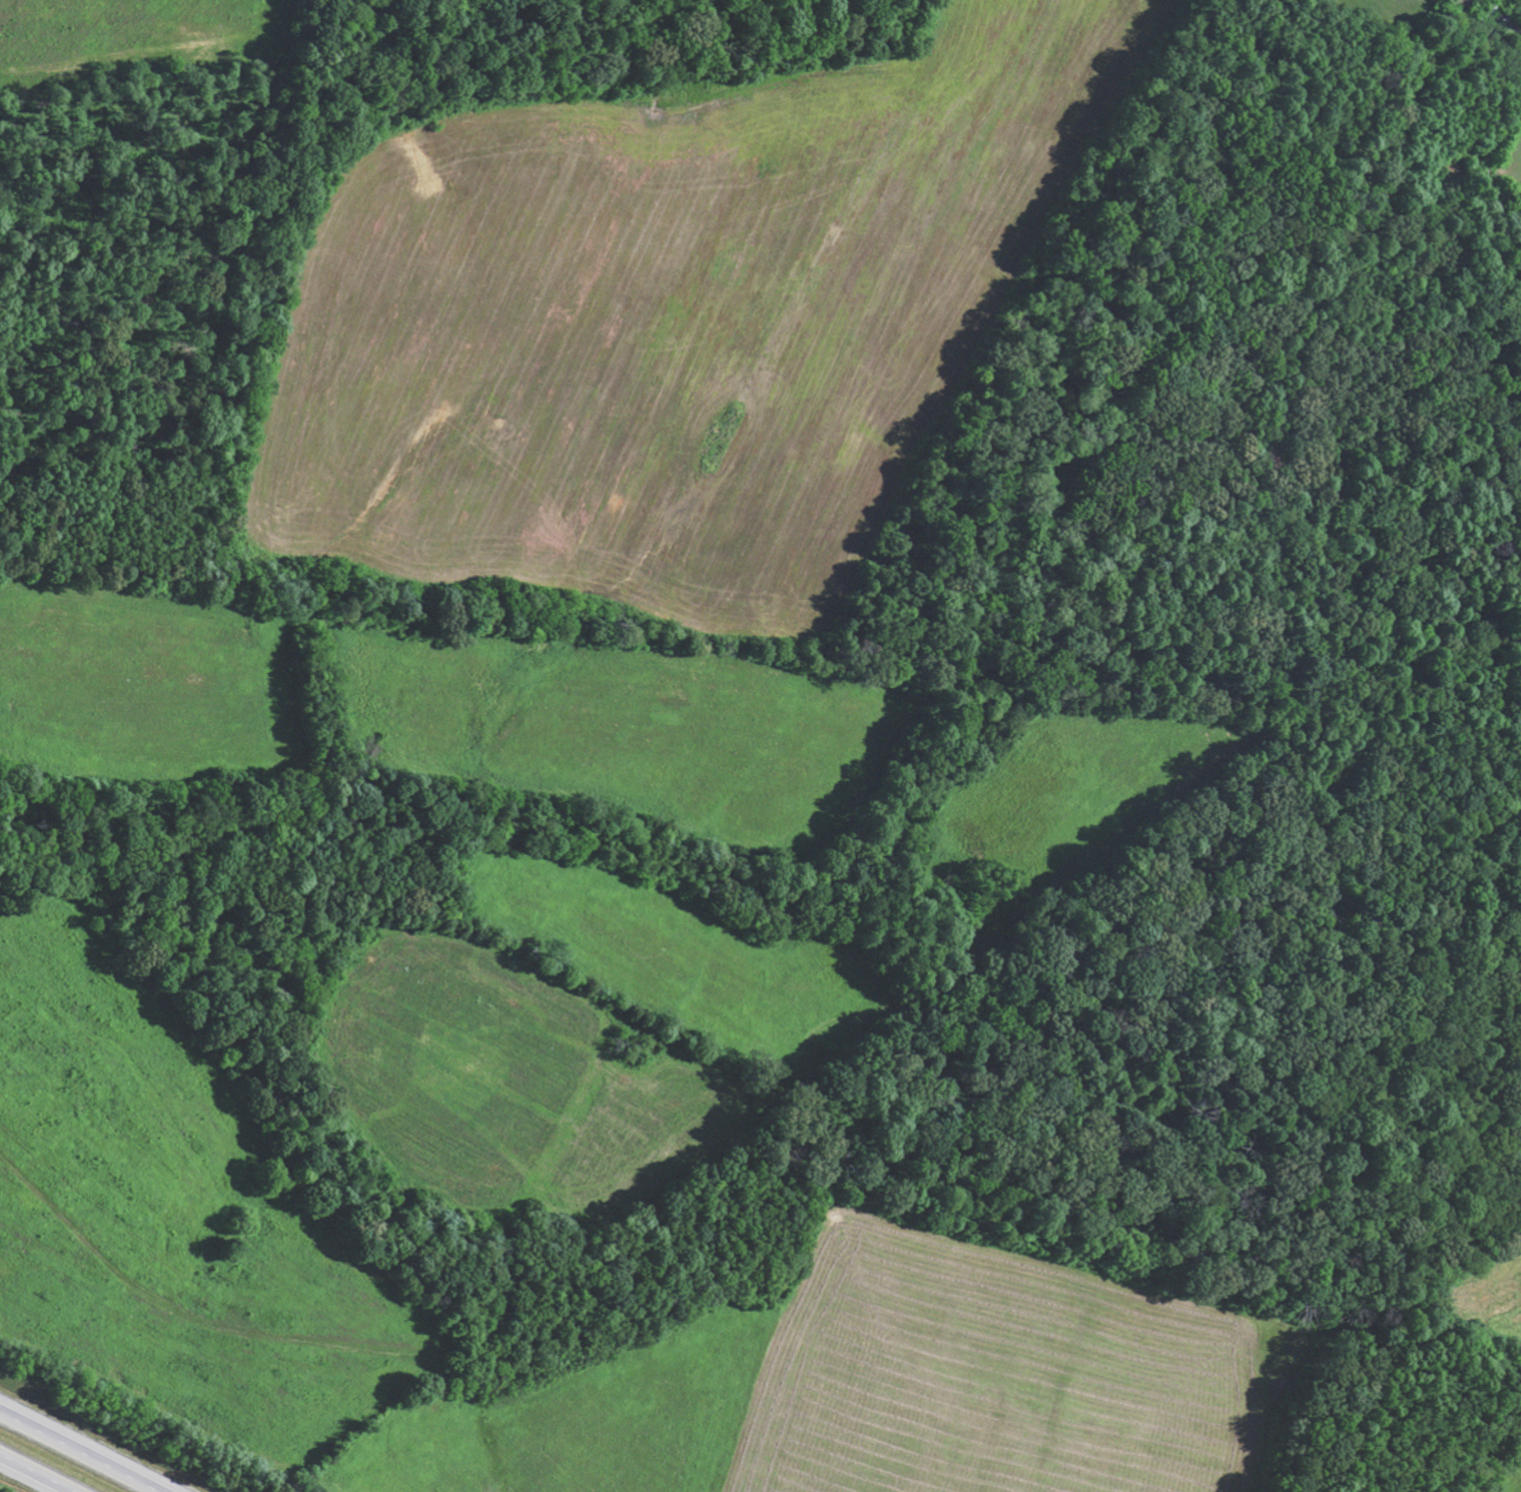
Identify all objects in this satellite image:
road: (81, 1450)
road: (36, 1473)

